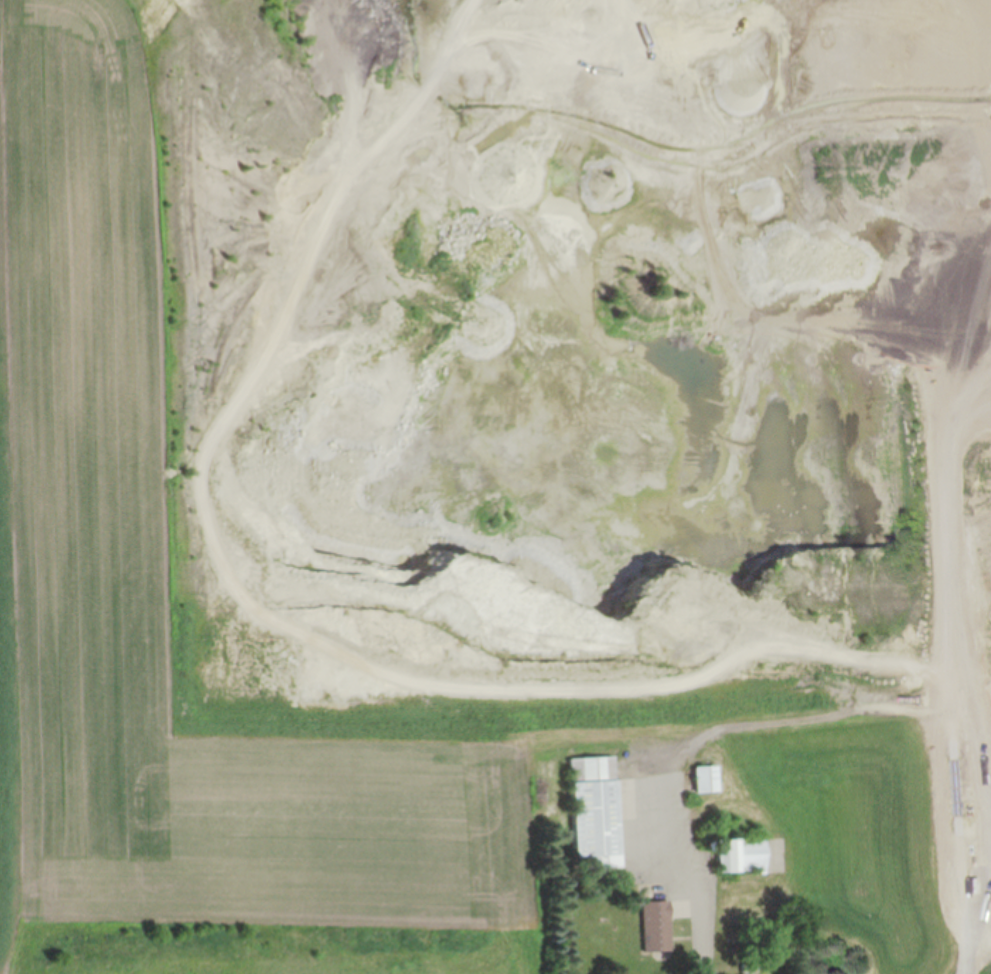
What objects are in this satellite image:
building: (602, 702)
building: (706, 779)
building: (595, 811)
building: (742, 855)
road: (705, 892)
building: (657, 926)

